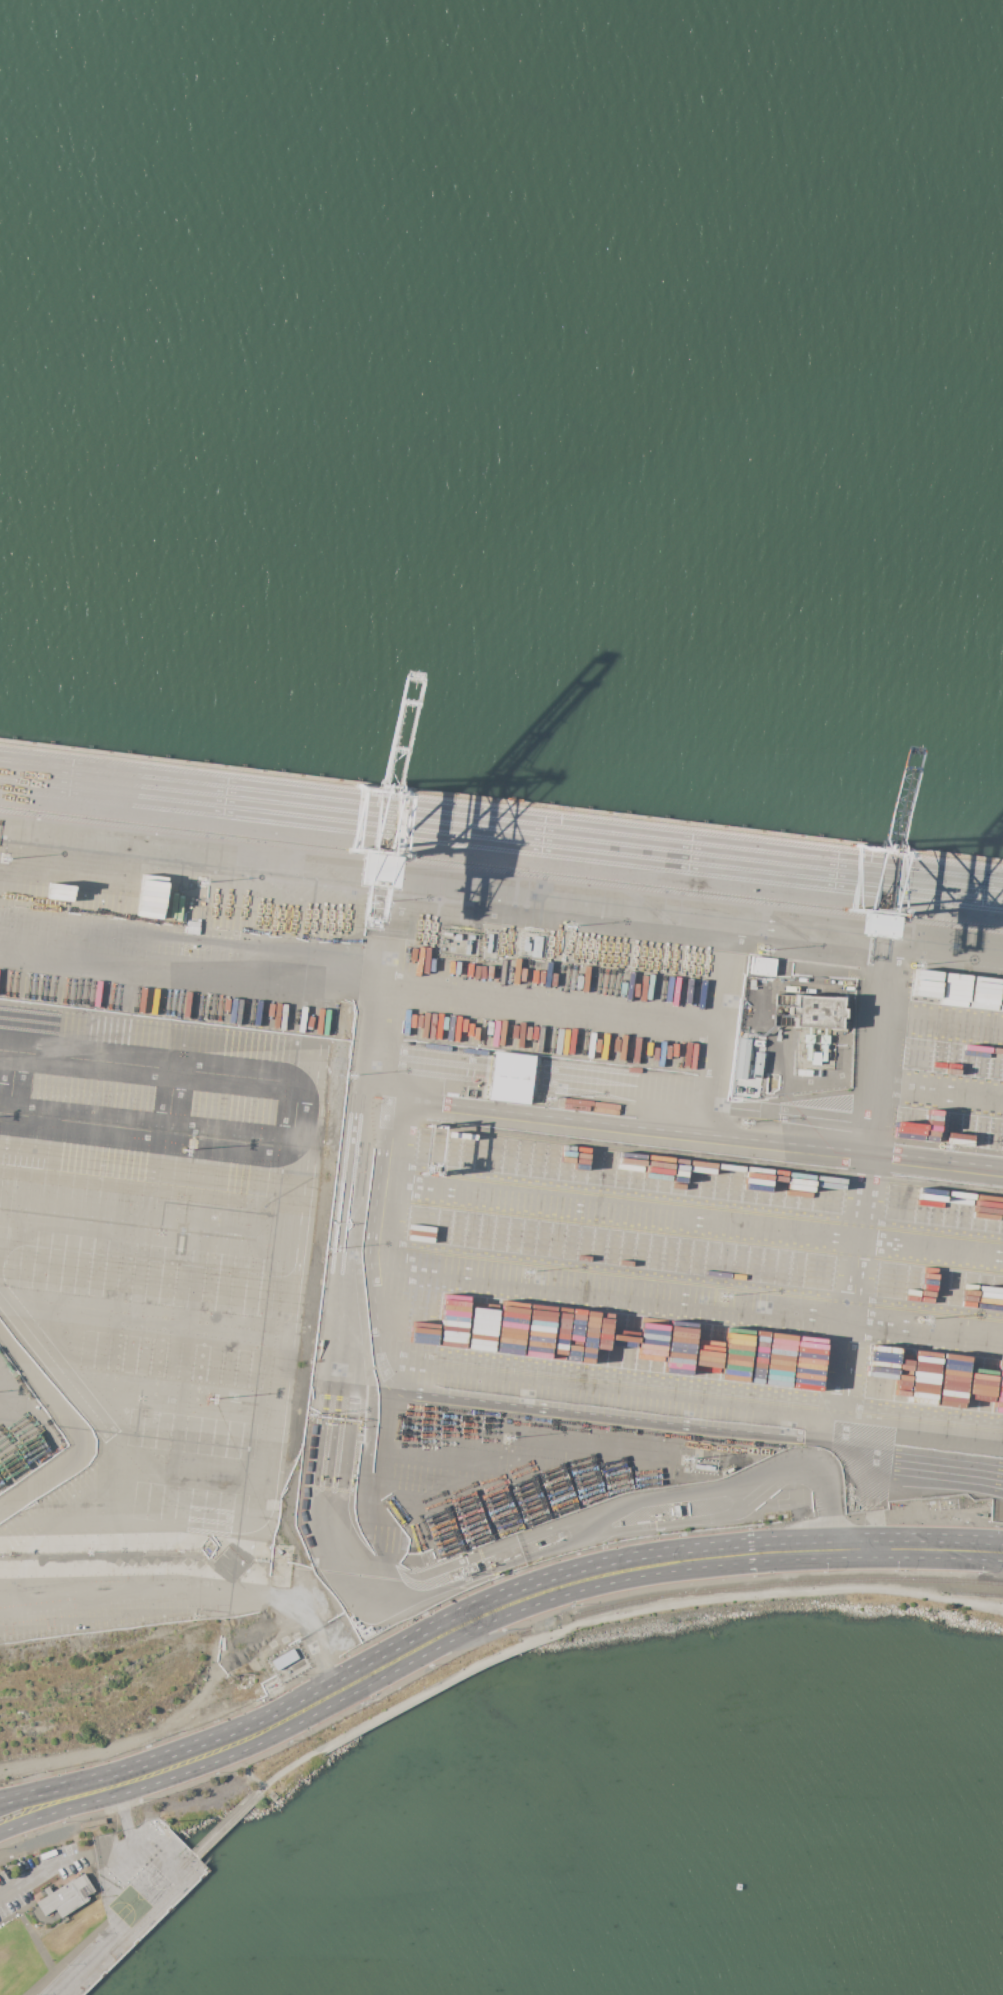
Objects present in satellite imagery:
building: (467, 879)
road: (500, 888)
building: (447, 934)
building: (457, 937)
building: (761, 966)
road: (161, 968)
road: (351, 984)
road: (549, 1005)
building: (815, 1011)
road: (718, 1037)
road: (884, 1056)
road: (156, 1064)
road: (541, 1075)
building: (510, 1077)
road: (681, 1134)
road: (691, 1219)
road: (342, 1274)
road: (281, 1355)
road: (690, 1396)
road: (532, 1405)
road: (22, 1406)
building: (703, 1467)
road: (149, 1469)
road: (364, 1472)
building: (676, 1511)
road: (150, 1542)
road: (917, 1550)
road: (774, 1563)
building: (468, 1569)
railway: (783, 1584)
road: (215, 1585)
road: (787, 1594)
railway: (977, 1595)
road: (1002, 1607)
road: (407, 1643)
building: (284, 1659)
road: (444, 1685)
road: (356, 1690)
road: (287, 1770)
road: (245, 1771)
park: (248, 1789)
road: (225, 1824)
road: (115, 1847)
park: (157, 1855)
road: (103, 1862)
parking lot: (80, 1863)
building: (134, 1889)
building: (65, 1896)
road: (27, 1907)
road: (142, 1926)
road: (50, 1930)
road: (48, 1963)
road: (41, 1983)

